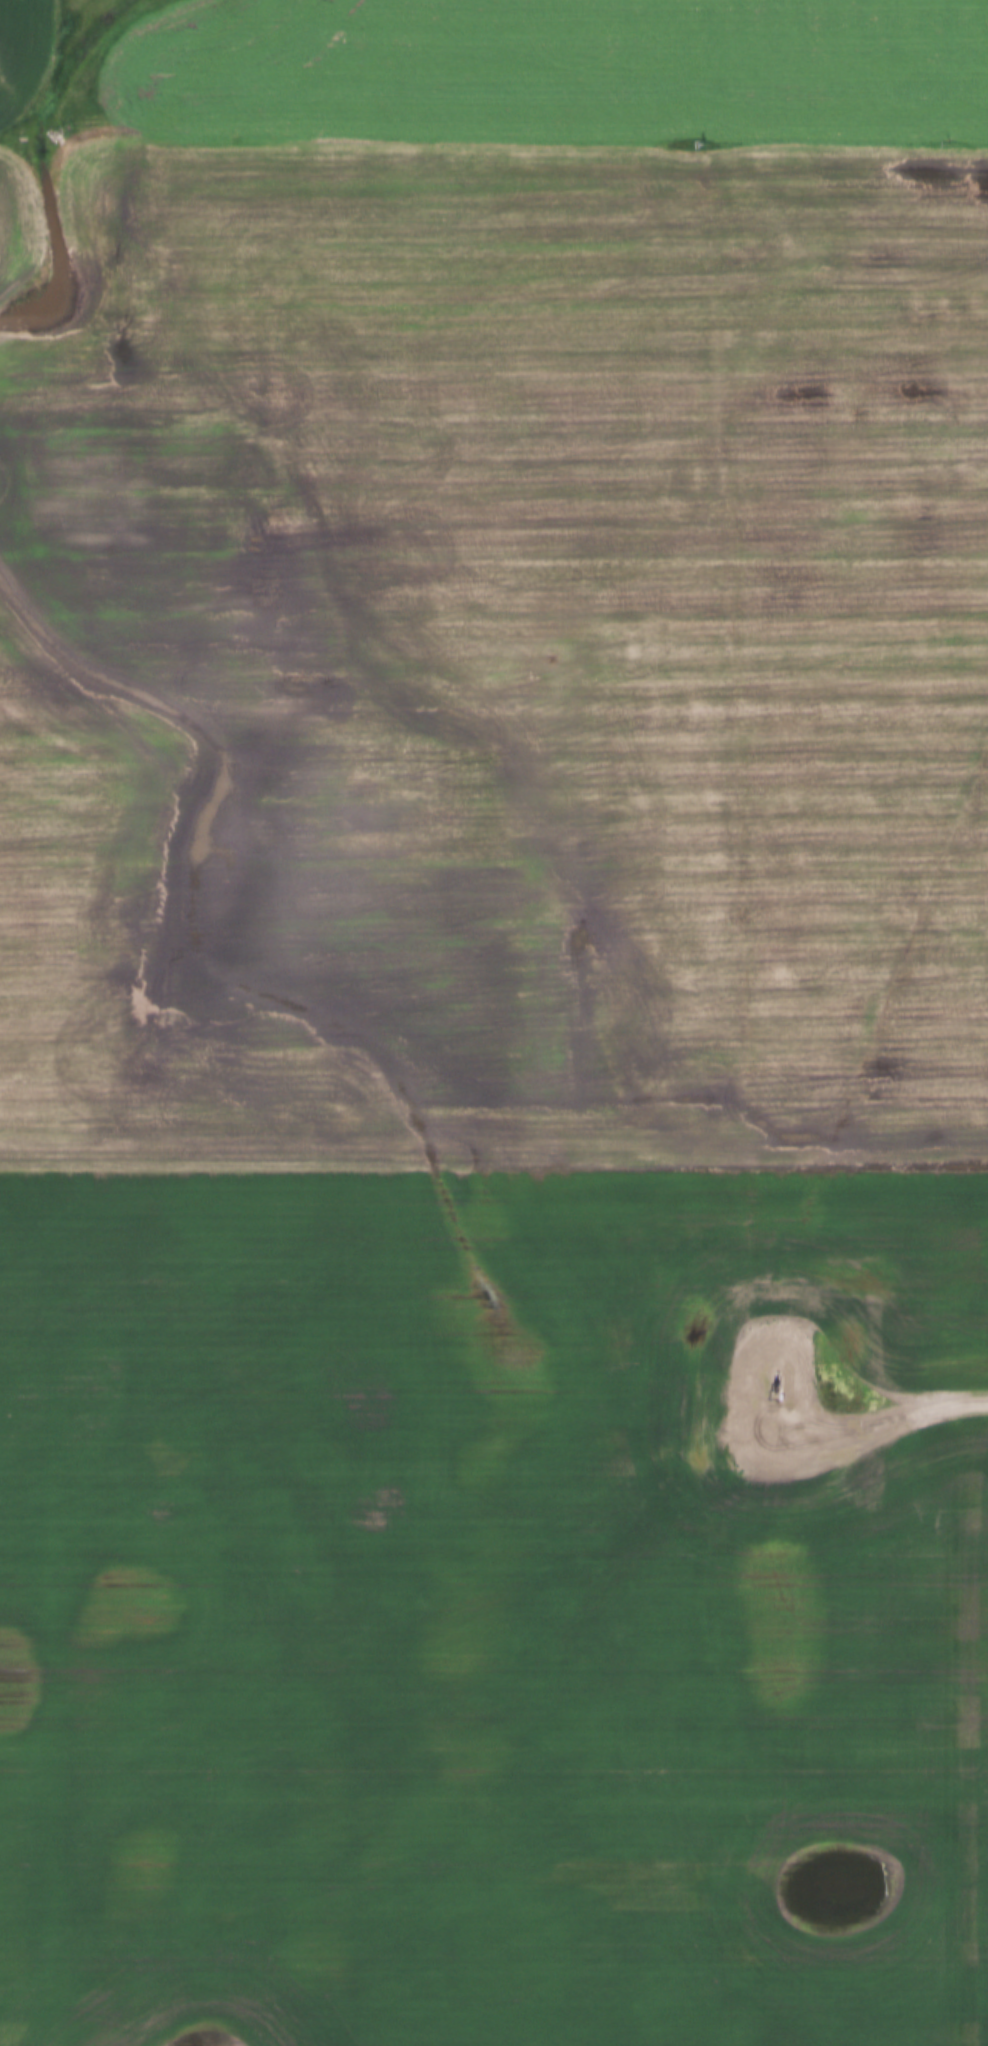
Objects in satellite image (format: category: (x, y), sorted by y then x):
road: (570, 1121)

